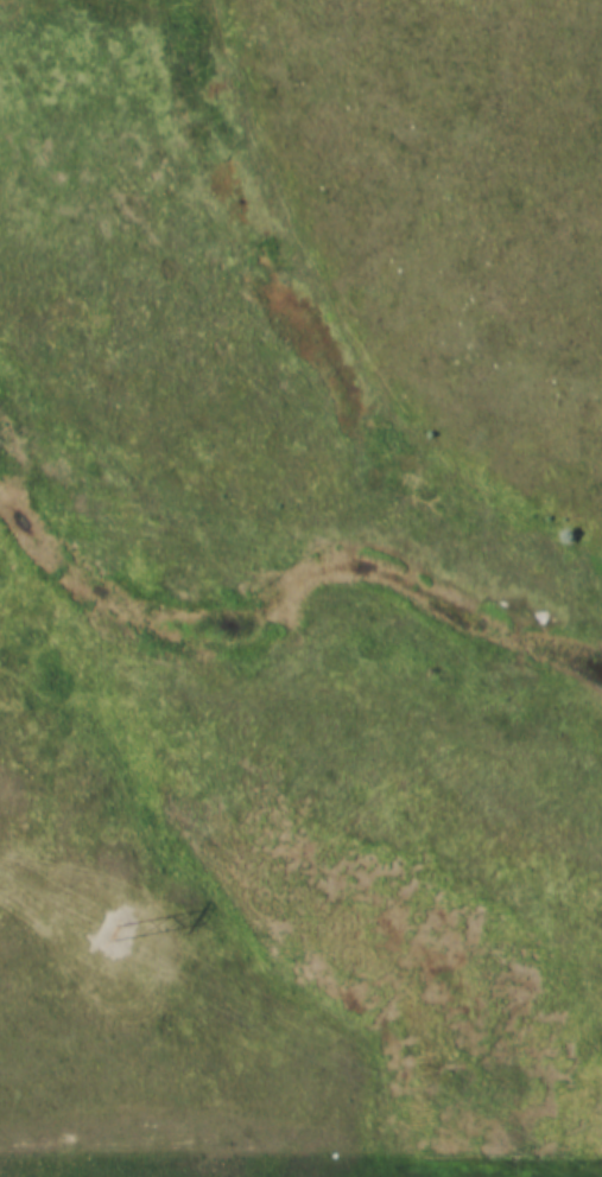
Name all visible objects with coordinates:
power tower: (118, 933)

